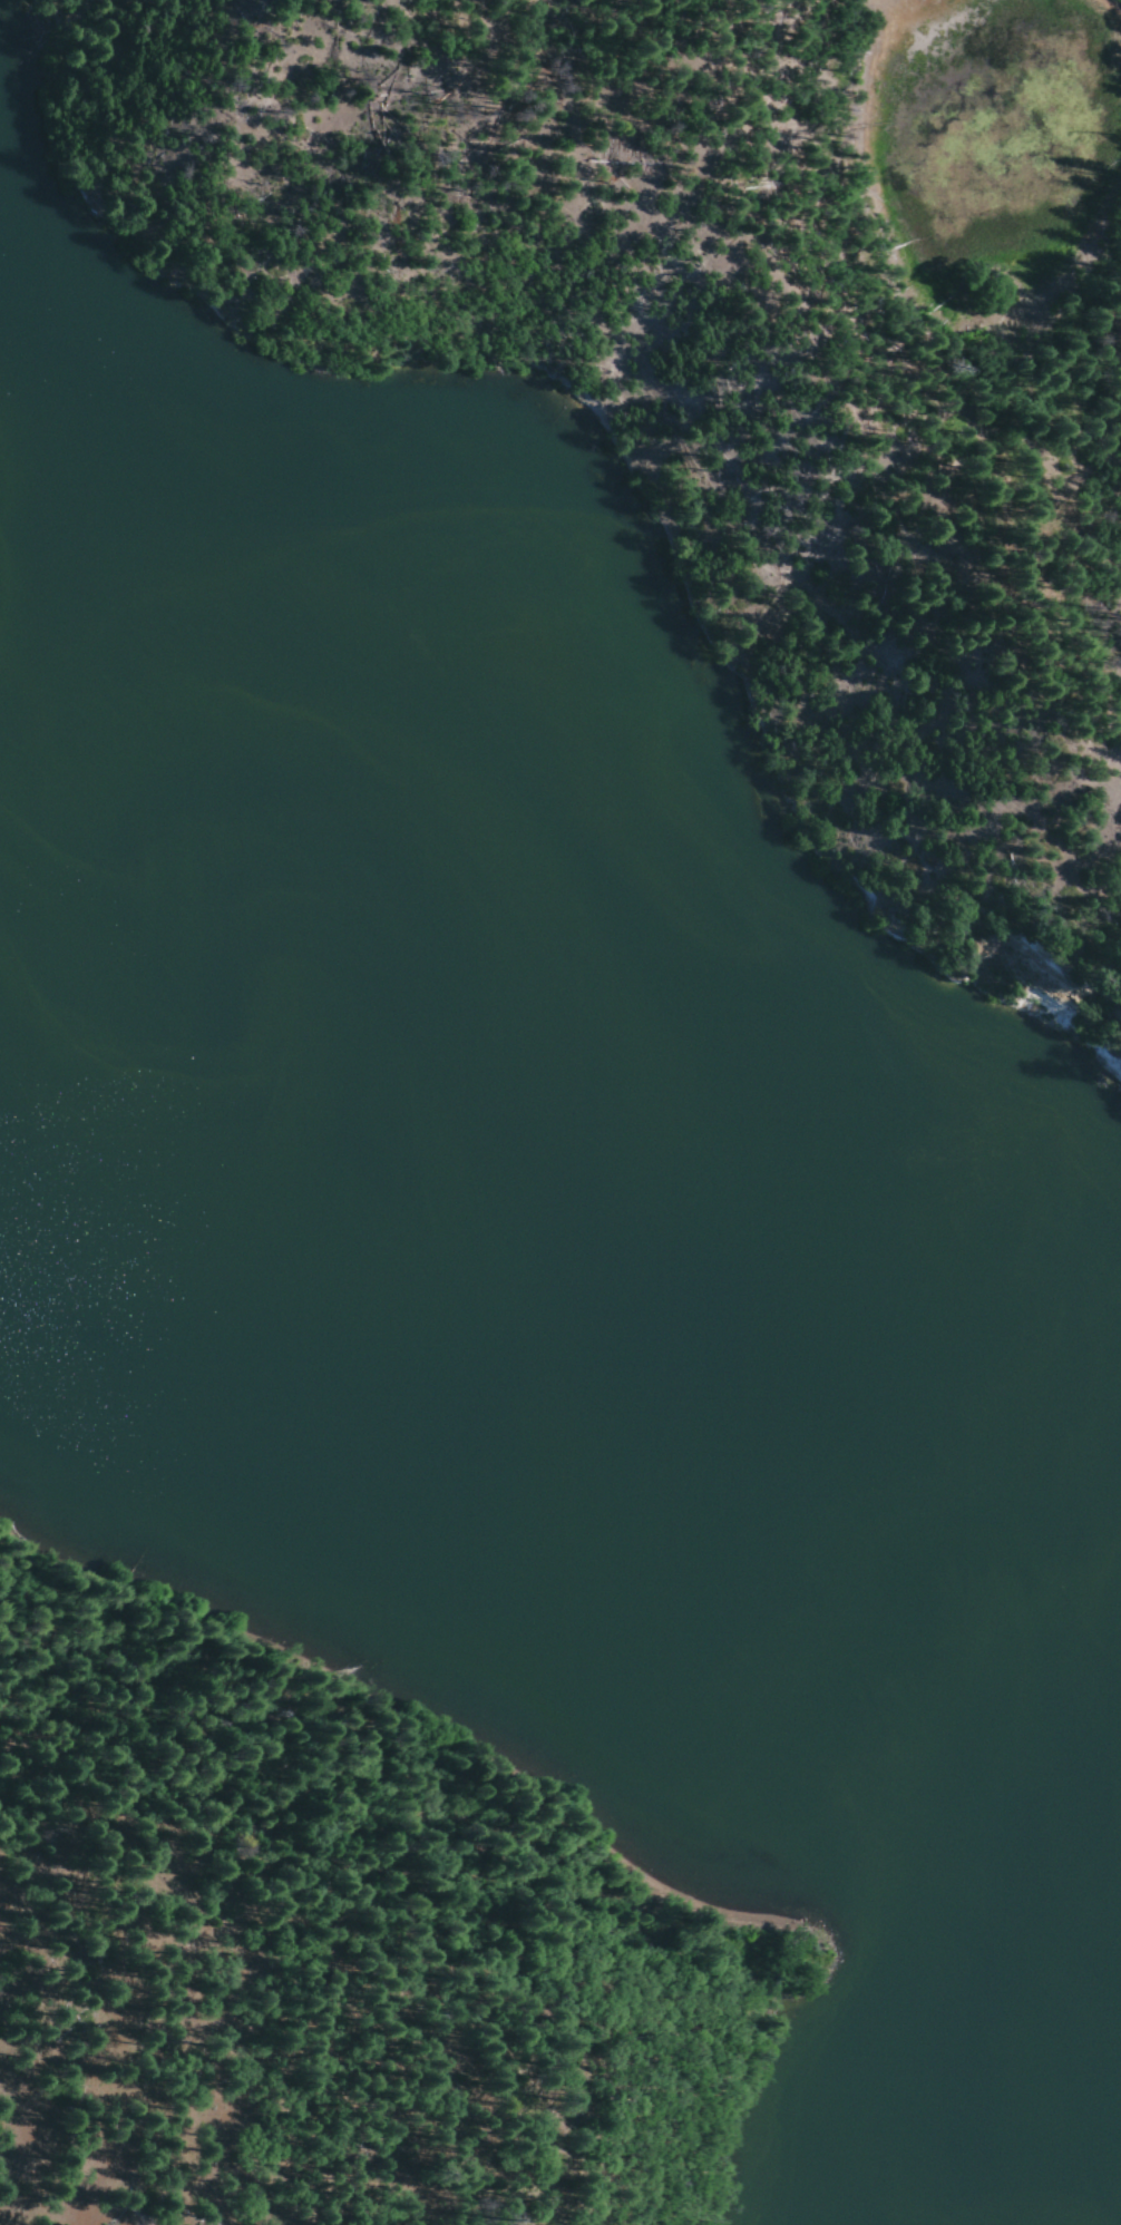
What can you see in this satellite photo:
river: (757, 1402)

